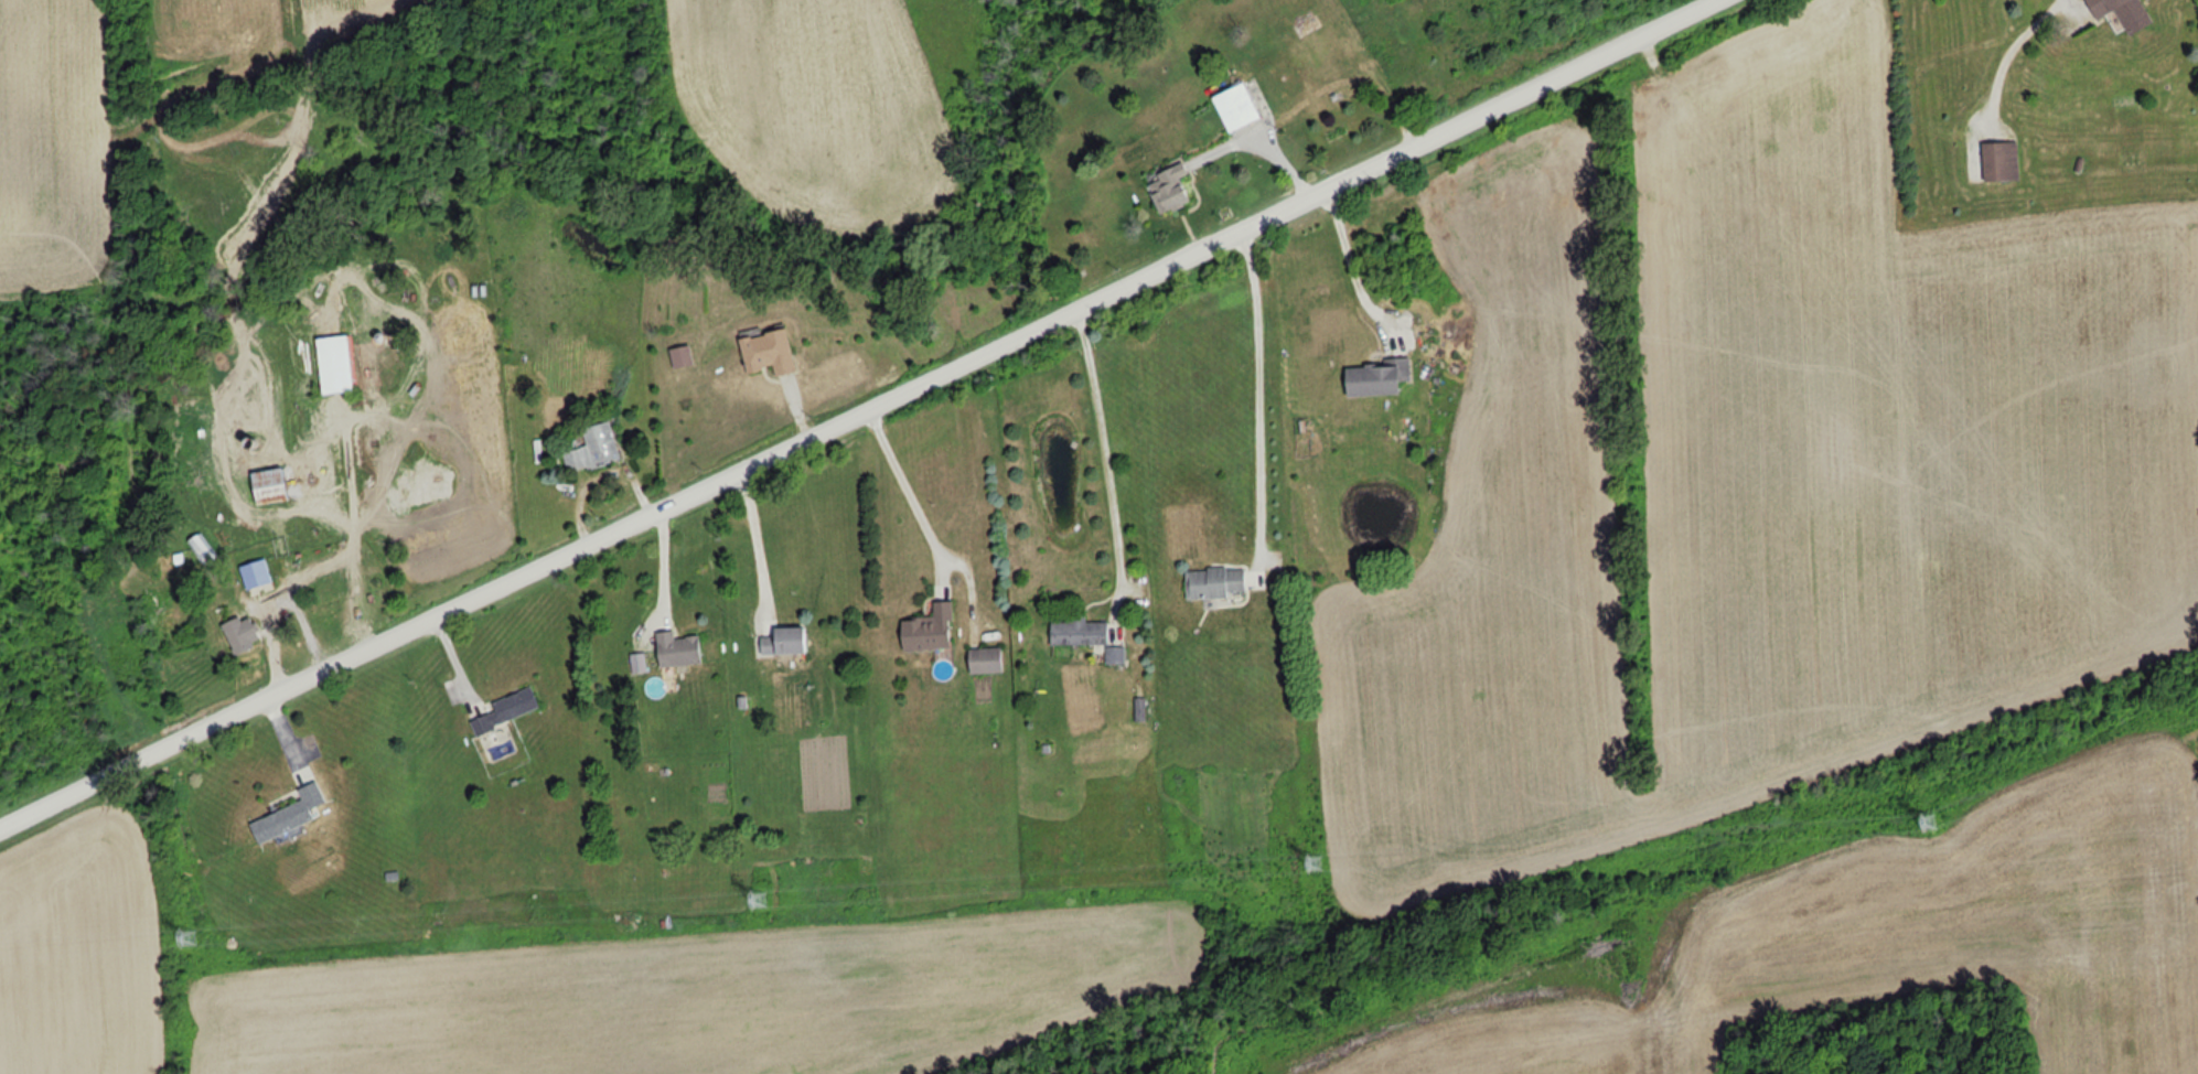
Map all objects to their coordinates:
building: (2111, 3)
building: (1235, 106)
road: (1259, 152)
building: (1998, 161)
building: (1168, 187)
road: (1352, 264)
building: (769, 351)
building: (680, 355)
building: (335, 363)
building: (1373, 377)
building: (480, 379)
road: (1258, 402)
road: (860, 414)
building: (593, 449)
road: (1107, 458)
road: (349, 465)
road: (905, 485)
road: (757, 540)
building: (203, 546)
building: (256, 572)
building: (1214, 582)
road: (278, 591)
building: (928, 629)
building: (1077, 632)
building: (240, 633)
building: (784, 640)
building: (677, 648)
building: (985, 659)
building: (506, 709)
building: (287, 815)
power tower: (1926, 818)
power tower: (1316, 862)
power tower: (759, 898)
power tower: (194, 937)

